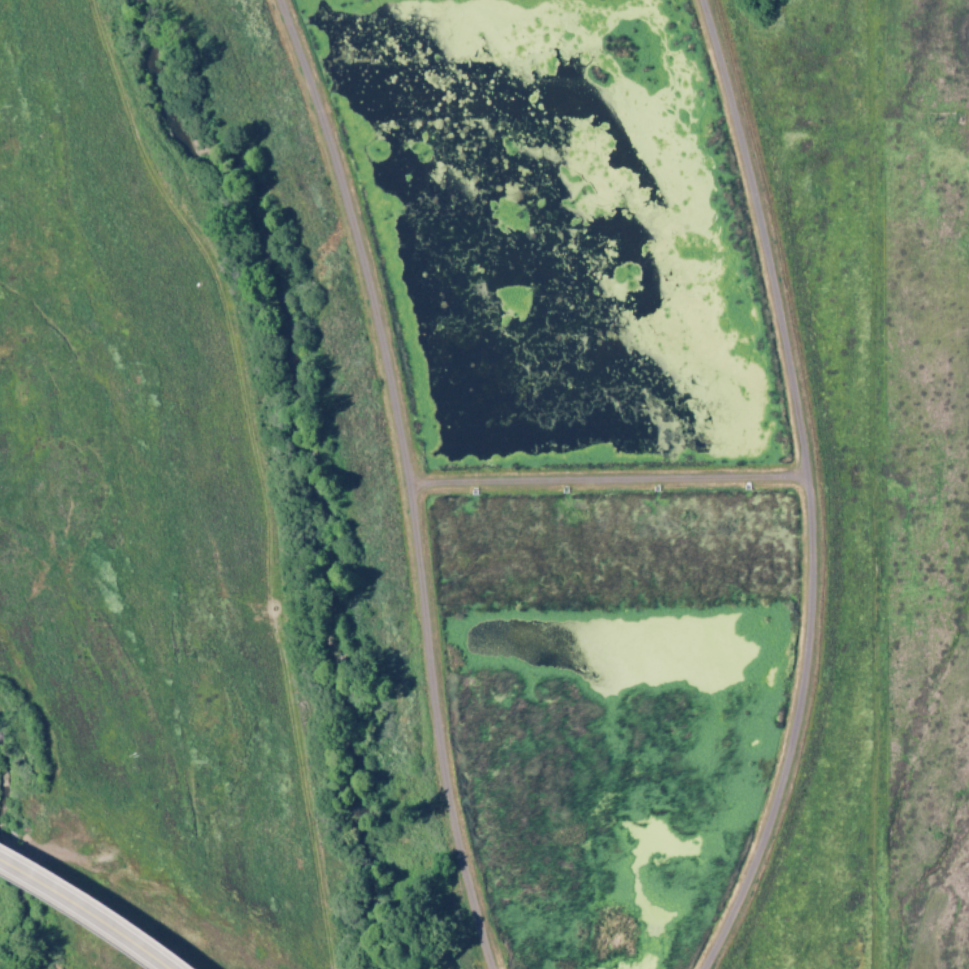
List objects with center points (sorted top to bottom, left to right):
road: (84, 912)

